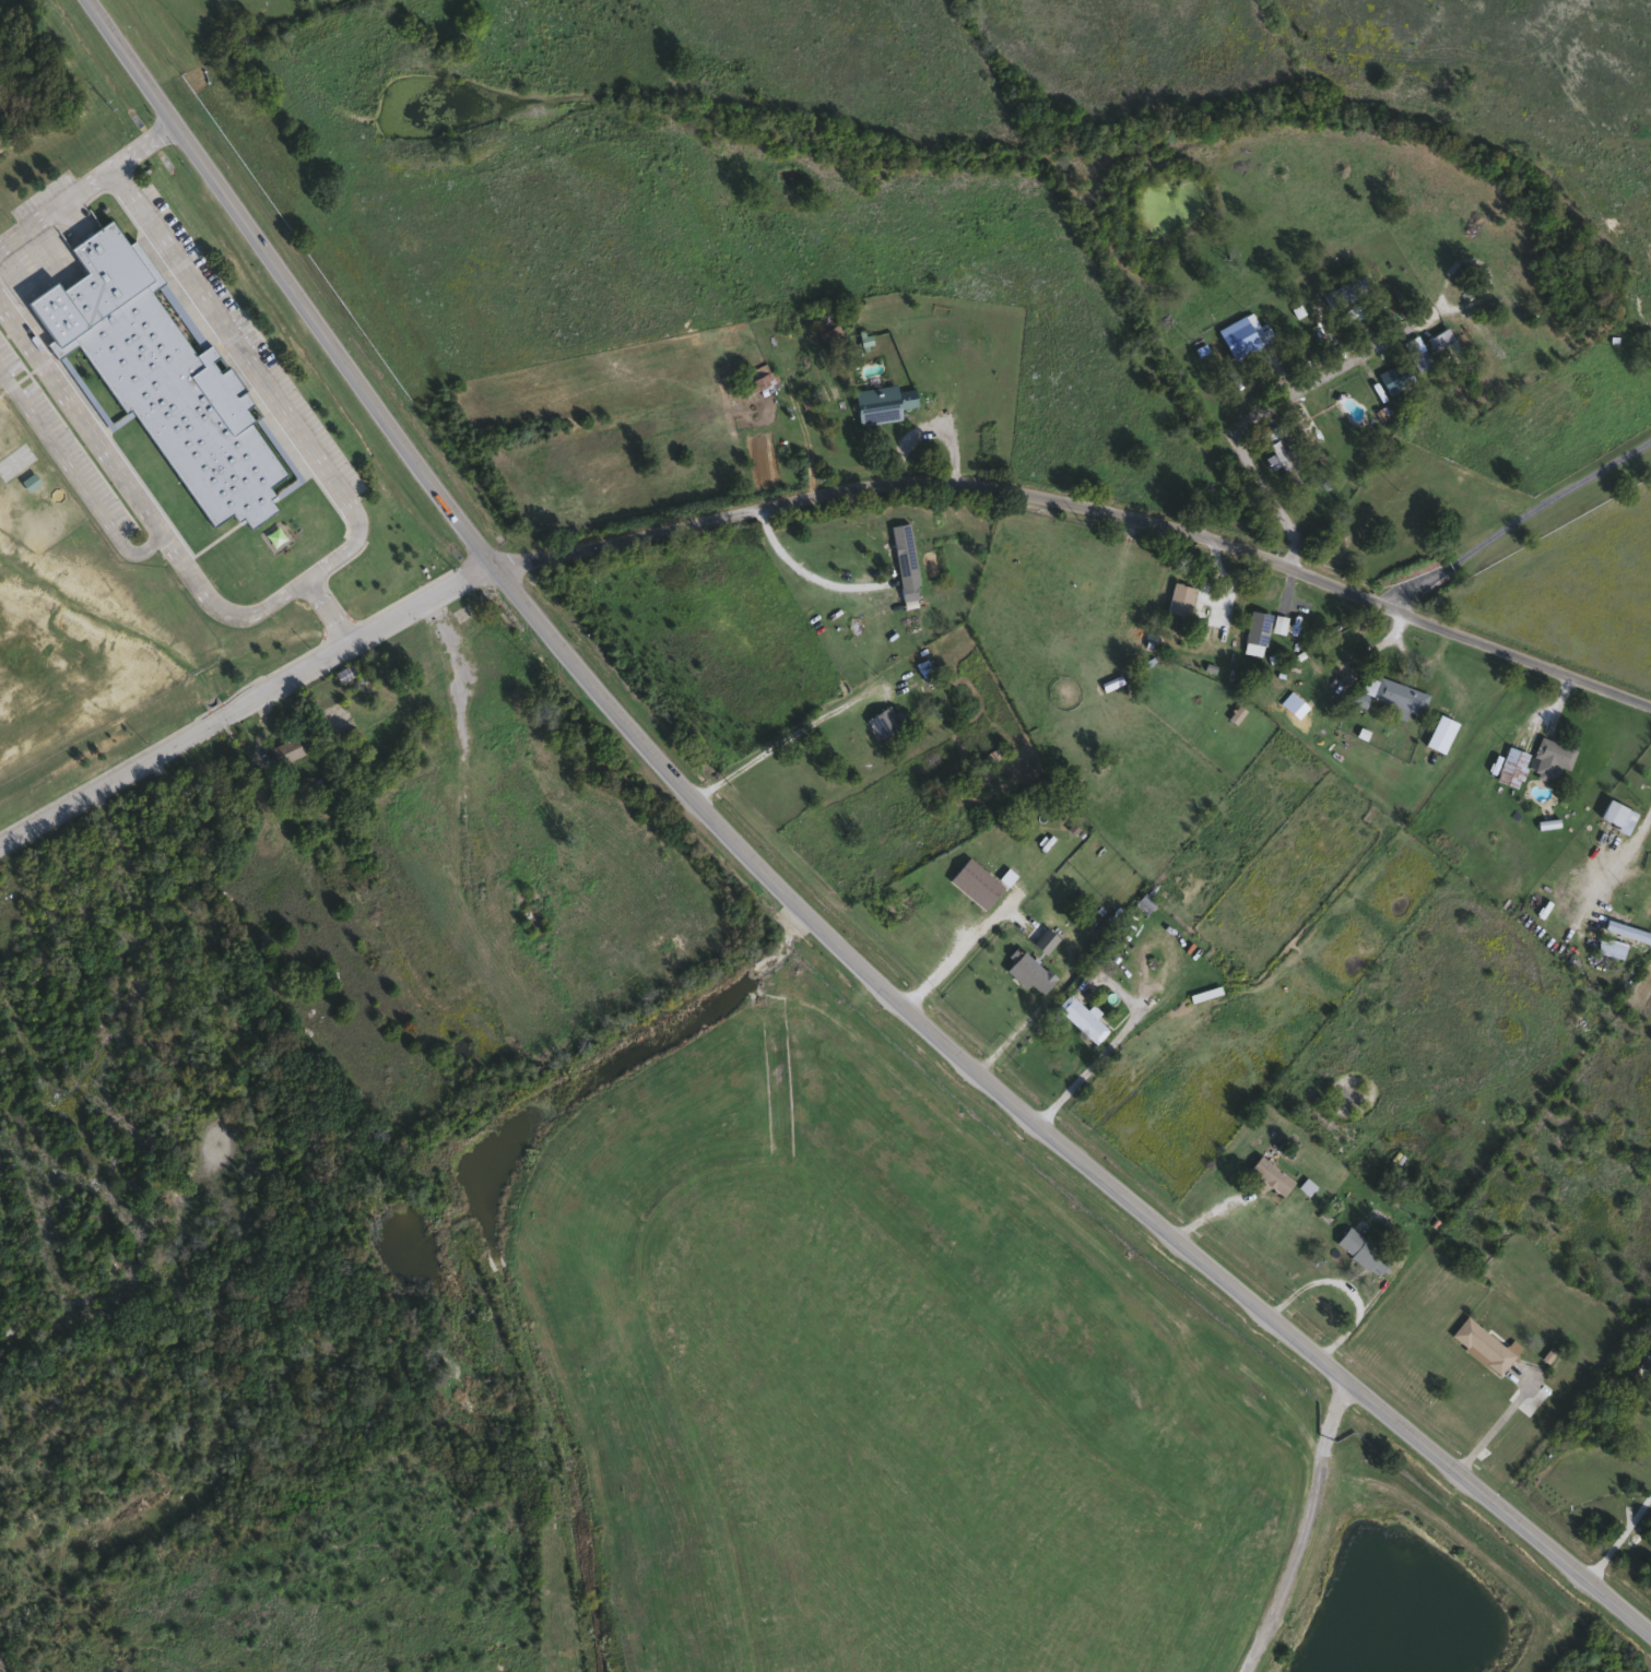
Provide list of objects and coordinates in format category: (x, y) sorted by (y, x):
park: (214, 26)
road: (86, 179)
road: (962, 240)
building: (1380, 287)
building: (1353, 303)
building: (1319, 318)
building: (828, 330)
building: (1241, 335)
building: (1439, 337)
building: (1419, 358)
building: (144, 367)
building: (759, 376)
building: (1393, 376)
road: (778, 380)
building: (881, 402)
road: (1274, 402)
building: (1312, 439)
road: (73, 475)
building: (28, 481)
road: (804, 500)
road: (1517, 520)
building: (901, 548)
road: (326, 562)
road: (805, 570)
building: (906, 590)
building: (1179, 598)
road: (328, 608)
building: (1255, 629)
building: (1399, 697)
building: (1357, 698)
building: (491, 710)
building: (883, 720)
road: (787, 742)
building: (285, 749)
building: (1550, 754)
building: (993, 755)
building: (1511, 766)
building: (1615, 815)
road: (1623, 854)
building: (975, 882)
road: (785, 900)
building: (1143, 902)
building: (1043, 939)
building: (1612, 940)
road: (955, 953)
building: (1027, 972)
building: (1081, 1018)
road: (1085, 1074)
building: (1269, 1175)
road: (1214, 1205)
building: (1361, 1250)
road: (1345, 1284)
building: (1483, 1345)
road: (1495, 1425)
road: (1305, 1533)
road: (1618, 1542)

